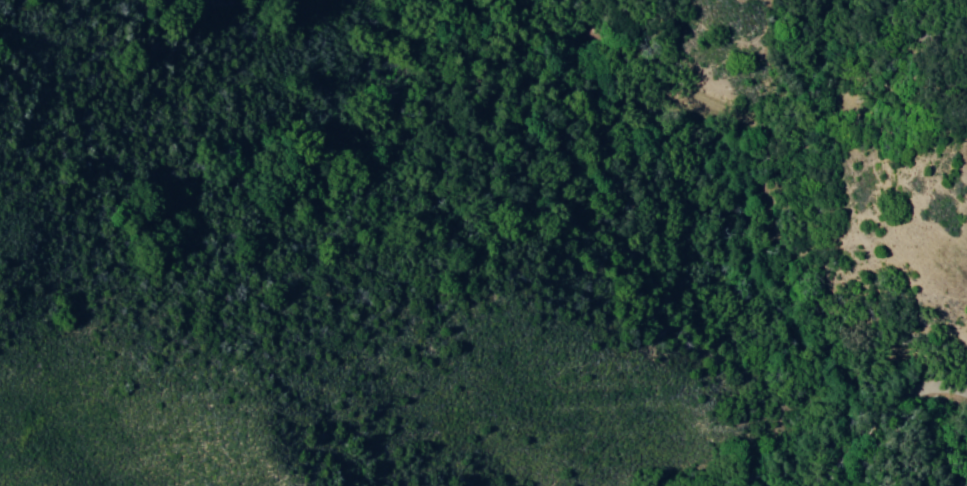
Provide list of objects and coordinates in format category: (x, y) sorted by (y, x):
road: (760, 197)
road: (791, 411)

